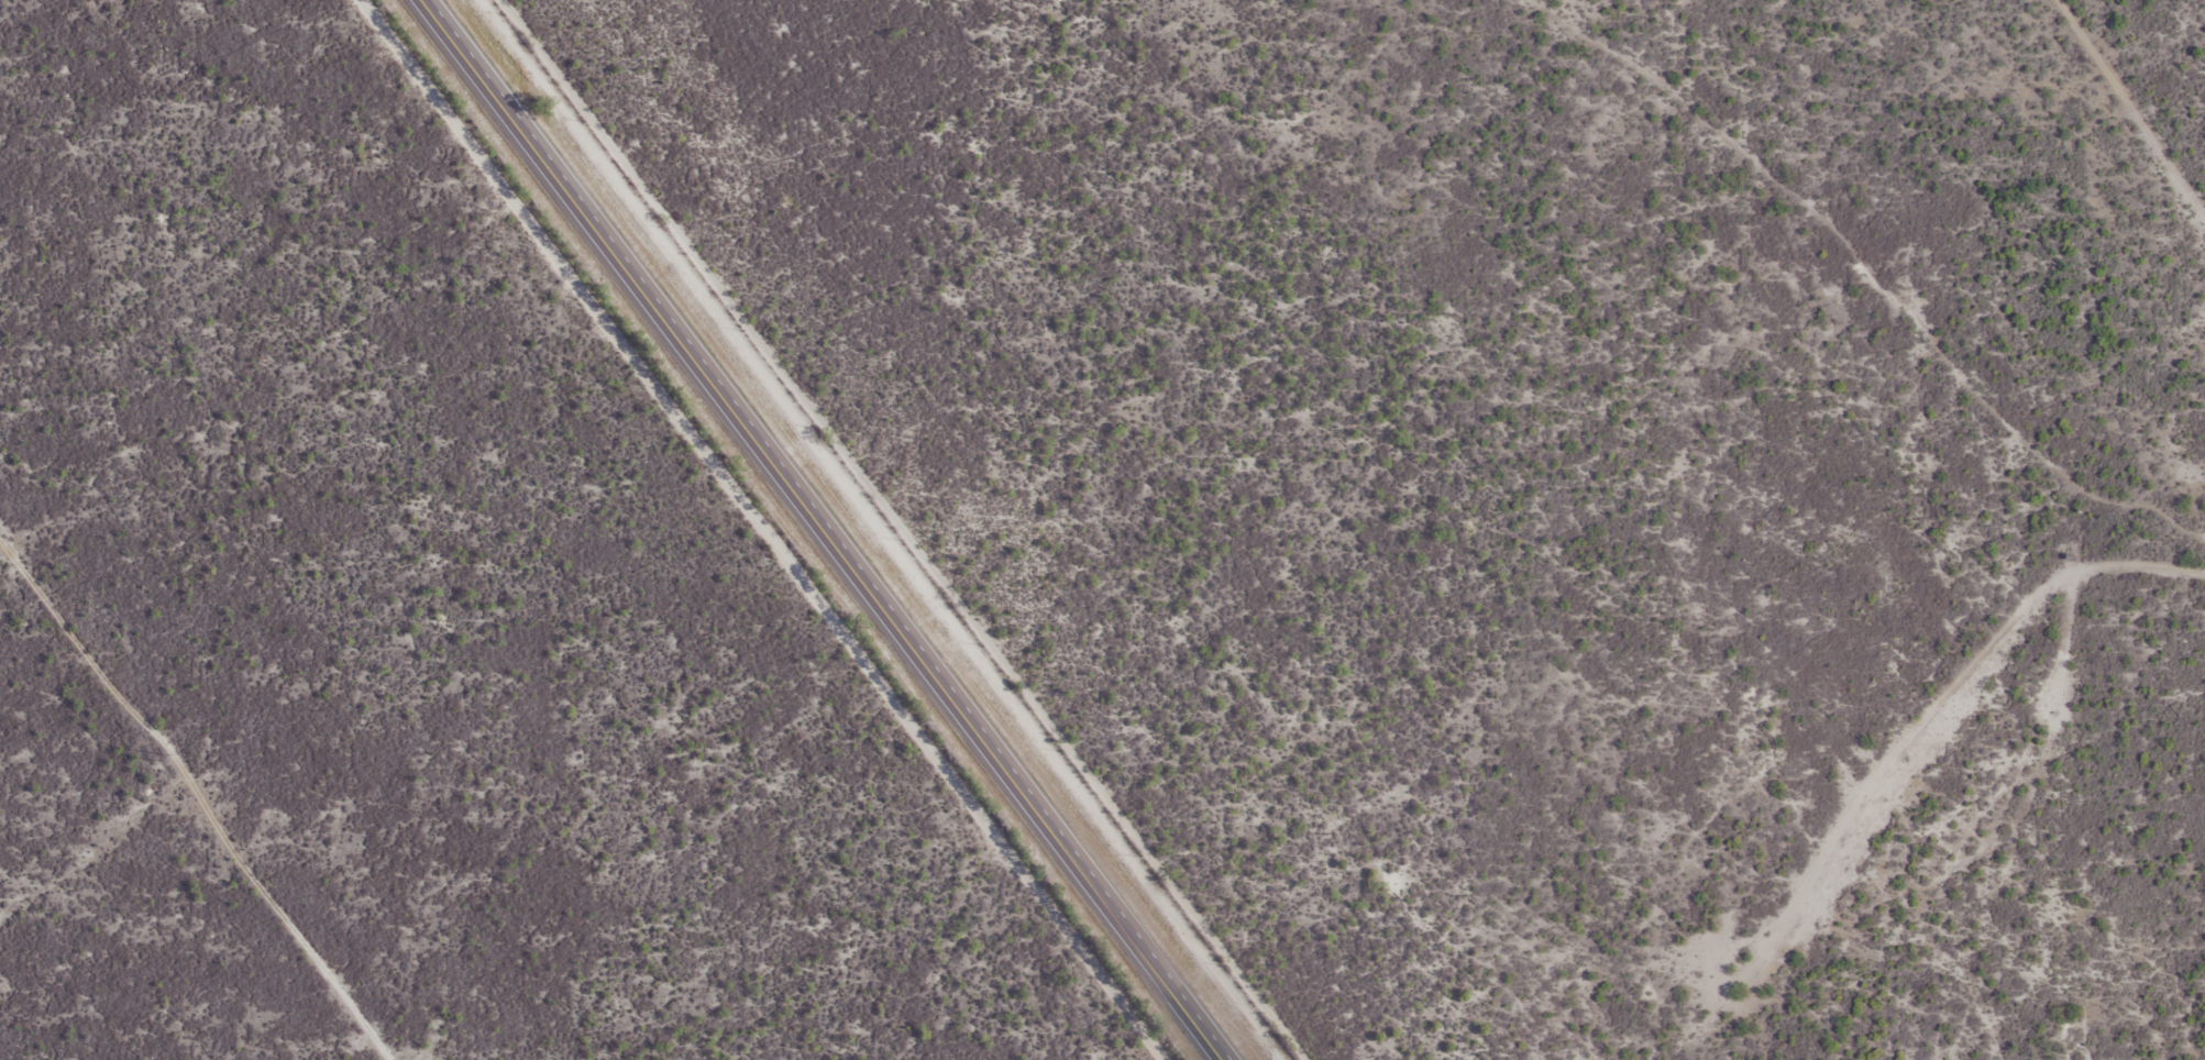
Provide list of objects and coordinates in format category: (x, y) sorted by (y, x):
road: (1819, 299)
road: (823, 530)
road: (2183, 639)
power tower: (170, 758)

